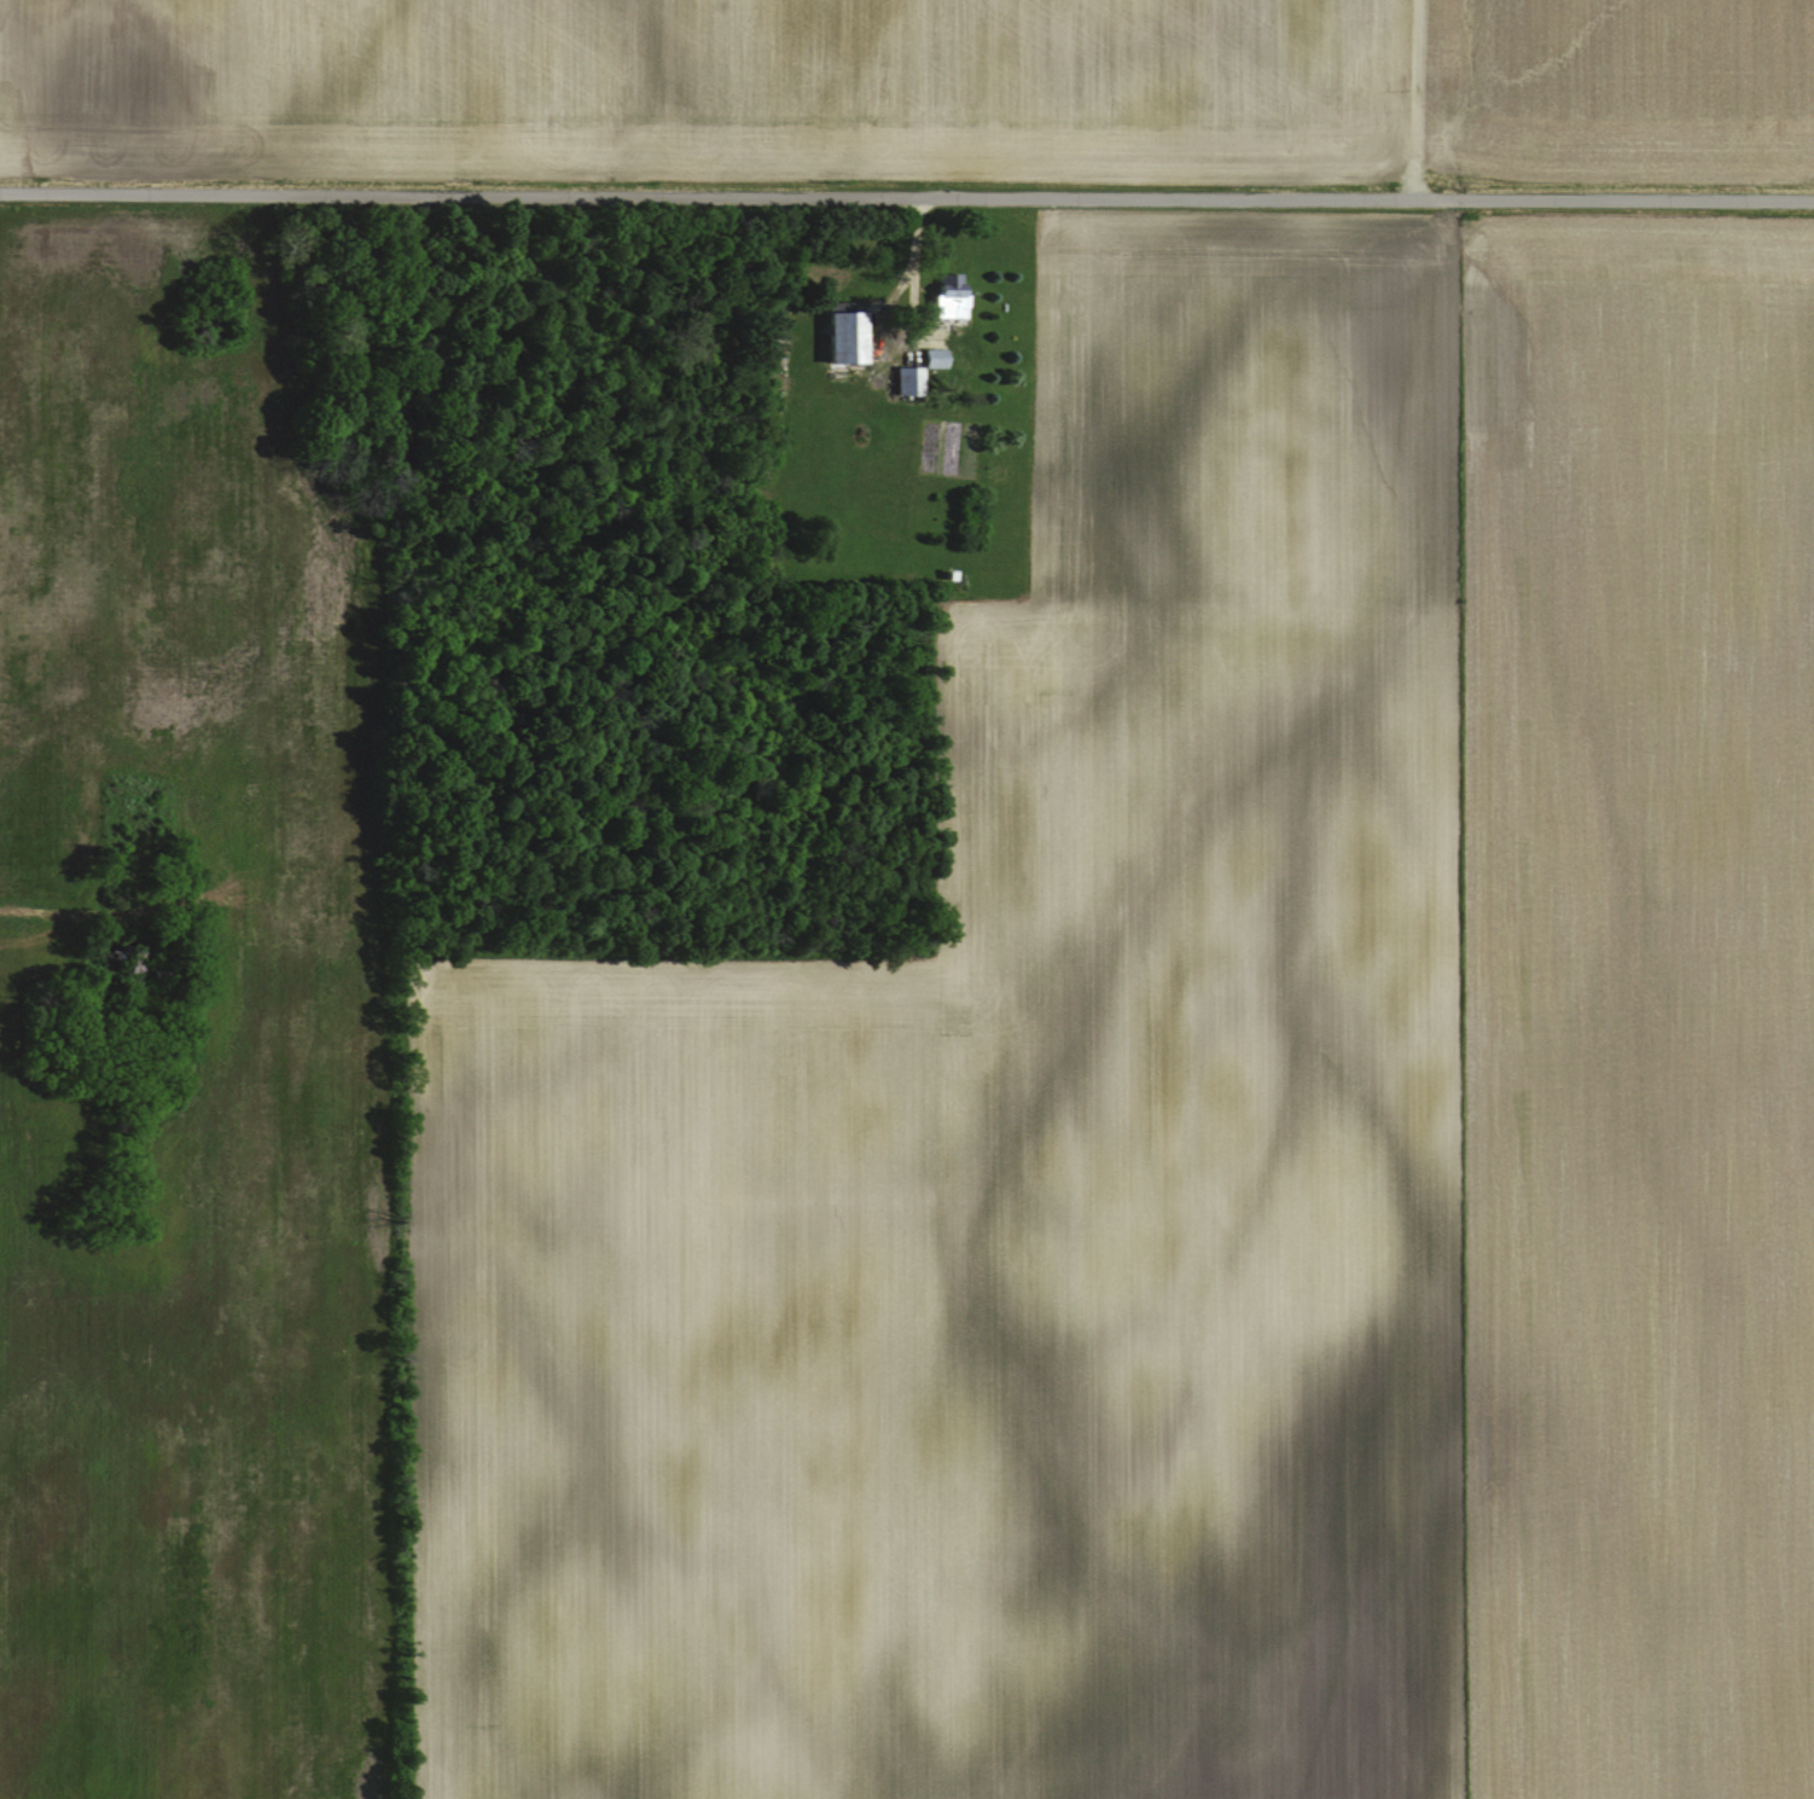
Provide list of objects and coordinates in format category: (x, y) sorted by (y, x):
road: (1412, 100)
road: (906, 196)
road: (911, 273)
building: (836, 335)
building: (903, 379)

